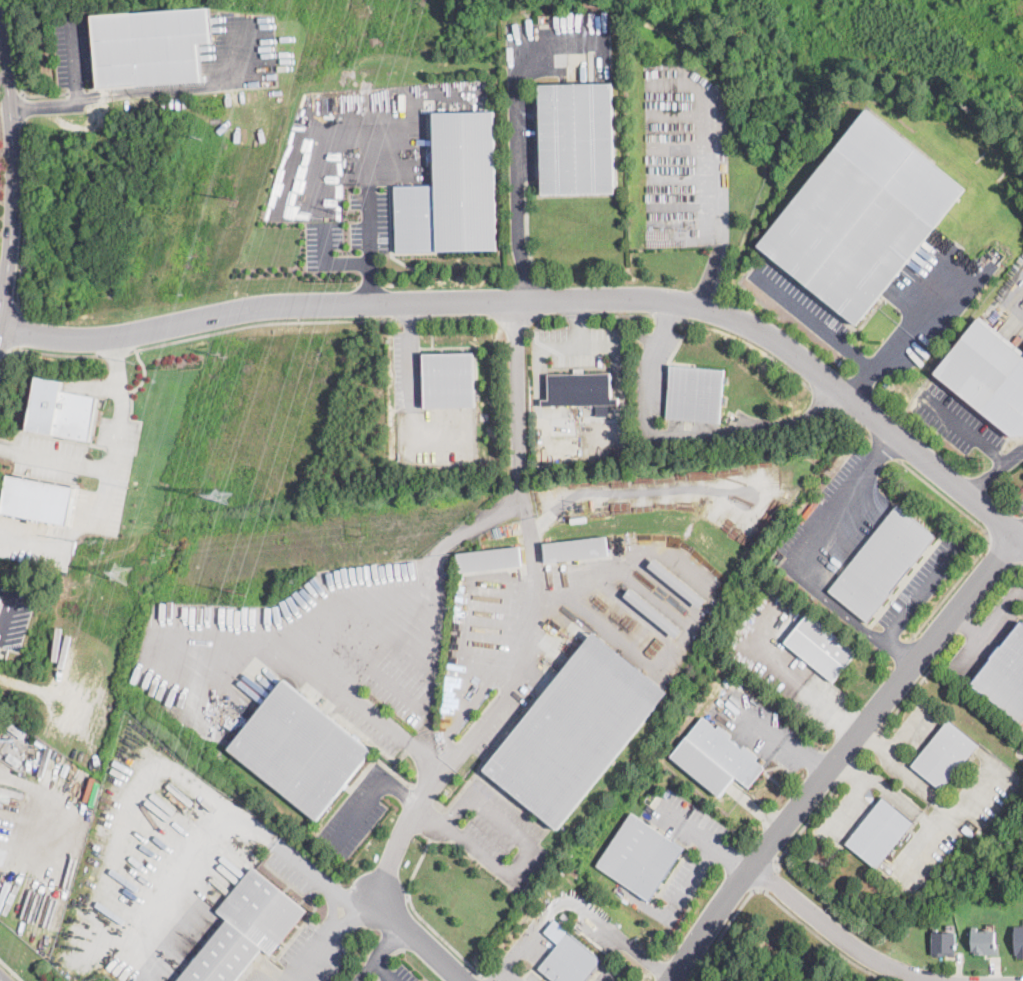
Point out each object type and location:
building: (153, 45)
road: (14, 47)
parking lot: (72, 49)
road: (72, 63)
road: (76, 90)
road: (132, 90)
road: (44, 93)
road: (22, 107)
power tower: (199, 138)
building: (577, 138)
road: (713, 173)
road: (10, 174)
road: (517, 183)
building: (453, 189)
power tower: (352, 213)
road: (25, 216)
building: (861, 216)
road: (368, 244)
road: (325, 262)
road: (548, 298)
parking lot: (797, 301)
road: (620, 314)
road: (577, 315)
road: (460, 316)
road: (516, 316)
road: (551, 316)
road: (665, 316)
road: (411, 317)
road: (815, 319)
road: (915, 320)
road: (577, 321)
road: (261, 322)
road: (538, 322)
road: (12, 329)
building: (1000, 334)
building: (1017, 339)
parking lot: (576, 344)
road: (750, 344)
power tower: (221, 350)
road: (537, 350)
road: (42, 351)
road: (114, 353)
road: (410, 355)
power tower: (131, 363)
parking lot: (406, 370)
building: (988, 376)
parking lot: (650, 378)
building: (449, 380)
road: (862, 385)
building: (580, 391)
building: (695, 394)
road: (519, 397)
road: (117, 402)
road: (131, 402)
building: (969, 405)
building: (60, 409)
parking lot: (955, 421)
road: (963, 427)
parking lot: (436, 436)
road: (682, 438)
road: (55, 460)
power tower: (980, 461)
road: (991, 468)
road: (631, 489)
road: (105, 495)
power tower: (220, 495)
road: (844, 497)
building: (37, 498)
parking lot: (1021, 502)
power tower: (583, 503)
parking lot: (830, 524)
power tower: (362, 528)
road: (1019, 530)
road: (987, 539)
power tower: (81, 541)
building: (576, 549)
road: (1004, 549)
power tower: (163, 550)
road: (439, 550)
building: (490, 559)
building: (881, 563)
road: (795, 564)
power tower: (119, 572)
parking lot: (922, 581)
building: (677, 582)
road: (995, 586)
power tower: (240, 589)
road: (918, 596)
building: (0, 599)
road: (829, 599)
building: (0, 600)
road: (712, 602)
road: (9, 607)
building: (654, 613)
parking lot: (1022, 613)
road: (963, 624)
road: (964, 624)
road: (987, 624)
road: (168, 631)
parking lot: (986, 633)
road: (527, 647)
building: (822, 647)
road: (886, 649)
parking lot: (786, 658)
road: (785, 674)
building: (1005, 676)
road: (921, 679)
road: (433, 683)
road: (396, 688)
road: (365, 708)
parking lot: (374, 721)
parking lot: (916, 723)
parking lot: (761, 727)
road: (905, 727)
building: (17, 731)
building: (576, 731)
road: (787, 740)
building: (300, 750)
road: (838, 753)
building: (944, 754)
building: (717, 758)
building: (14, 760)
building: (44, 761)
road: (903, 770)
road: (436, 772)
road: (154, 777)
road: (888, 788)
road: (403, 789)
road: (843, 804)
parking lot: (359, 809)
road: (361, 810)
parking lot: (841, 815)
road: (944, 818)
parking lot: (954, 822)
road: (803, 824)
building: (968, 829)
building: (879, 832)
parking lot: (496, 833)
road: (704, 835)
building: (640, 855)
parking lot: (706, 857)
road: (524, 860)
power tower: (28, 873)
road: (764, 876)
road: (379, 890)
road: (776, 901)
road: (366, 902)
road: (575, 904)
road: (674, 904)
road: (419, 916)
building: (246, 929)
parking lot: (600, 929)
road: (841, 934)
parking lot: (536, 935)
road: (386, 940)
building: (1019, 940)
building: (984, 941)
building: (944, 943)
road: (323, 944)
building: (570, 961)
road: (11, 969)
road: (363, 971)
road: (382, 971)
parking lot: (611, 973)
road: (509, 974)
parking lot: (398, 975)
road: (615, 976)
parking lot: (532, 977)
road: (484, 978)
road: (0, 980)

